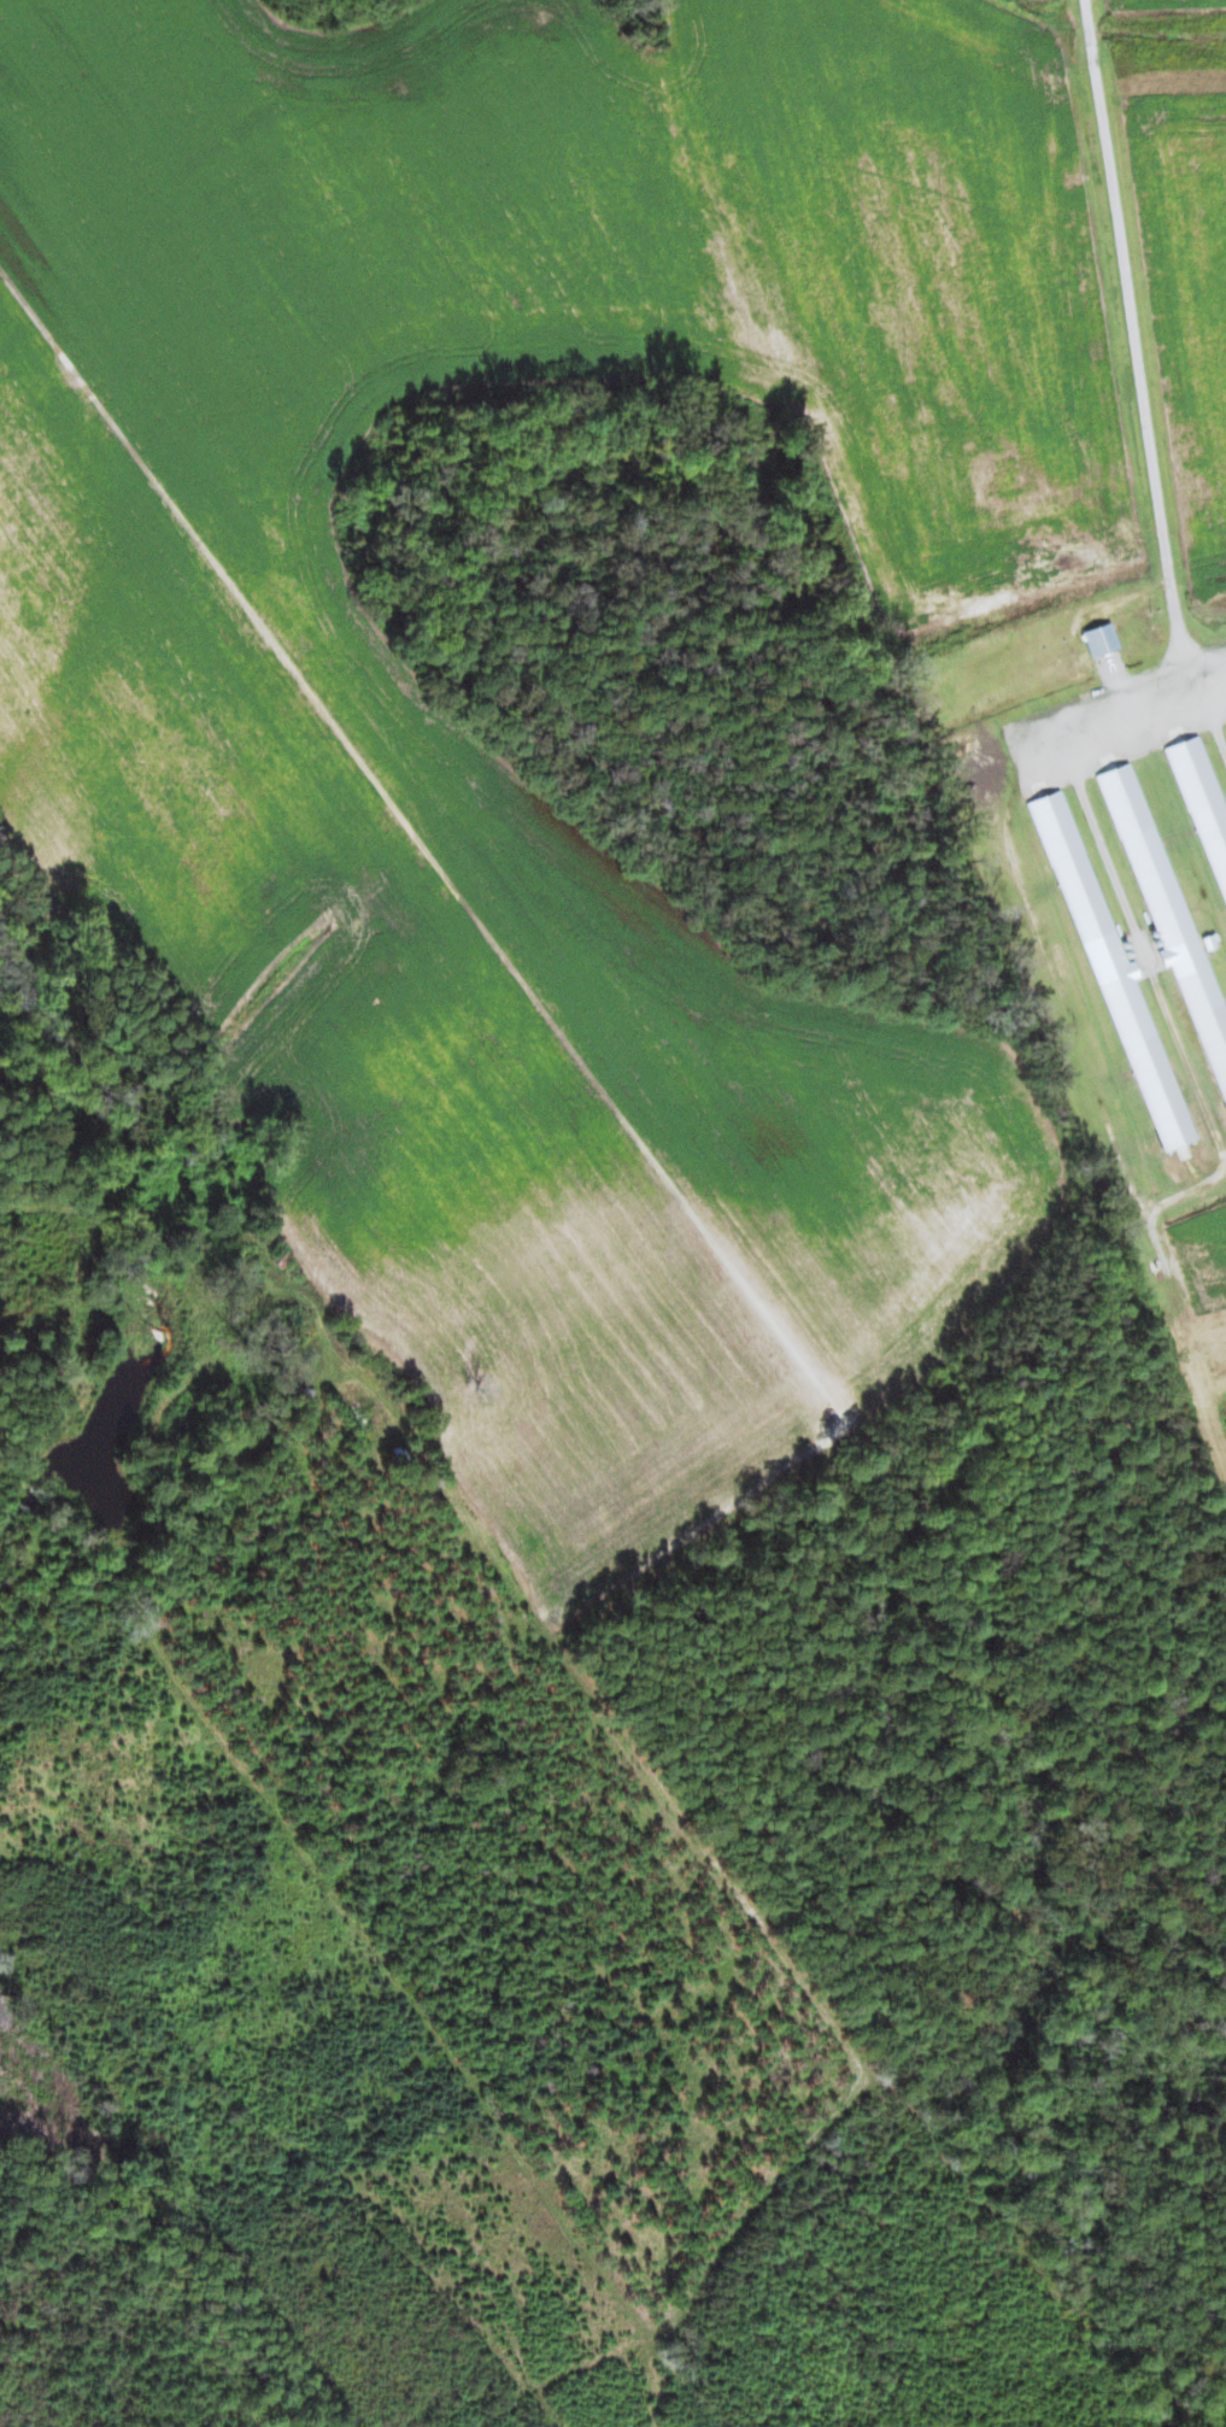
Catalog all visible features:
road: (113, 1229)
building: (245, 1247)
building: (54, 1335)

